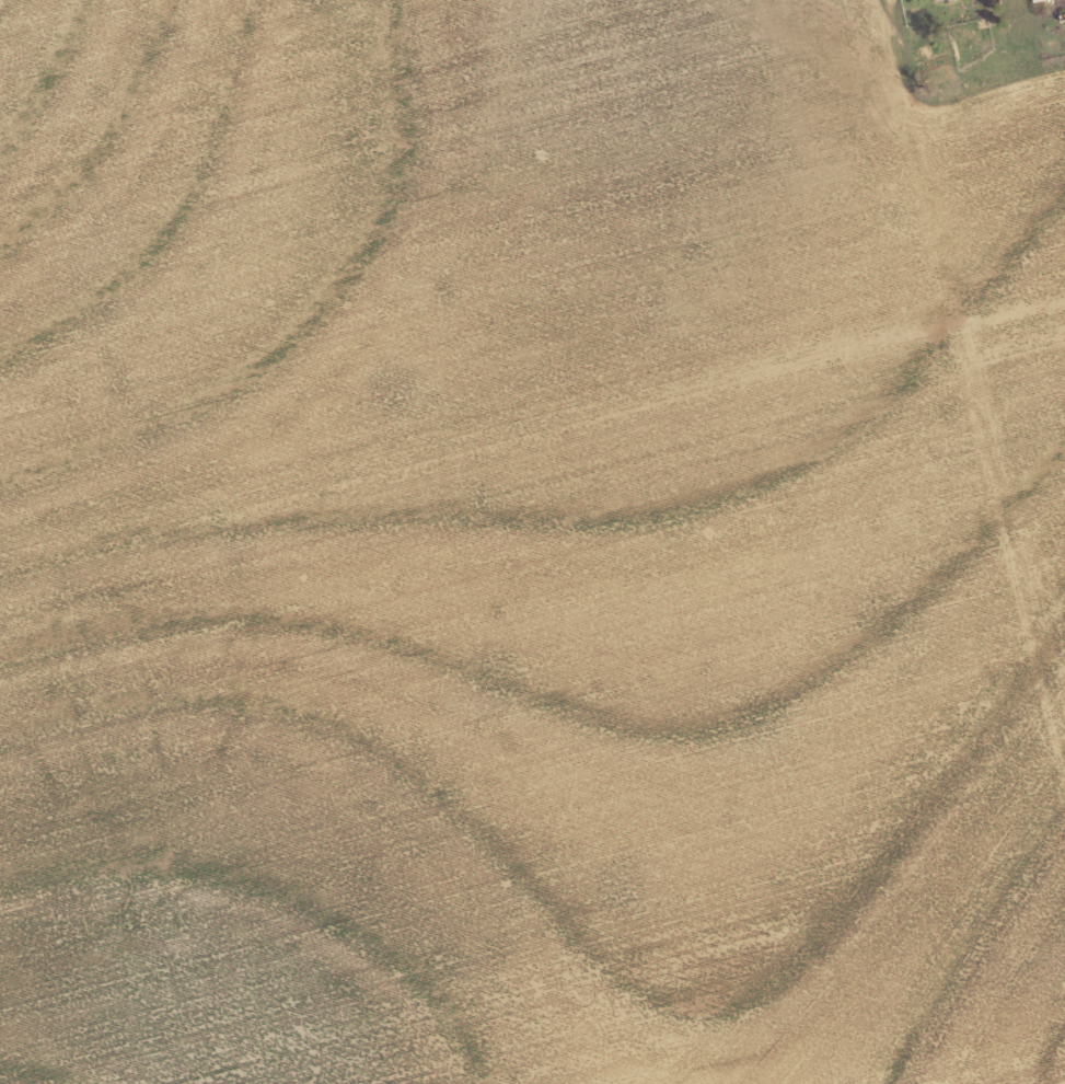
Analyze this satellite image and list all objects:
road: (891, 15)

